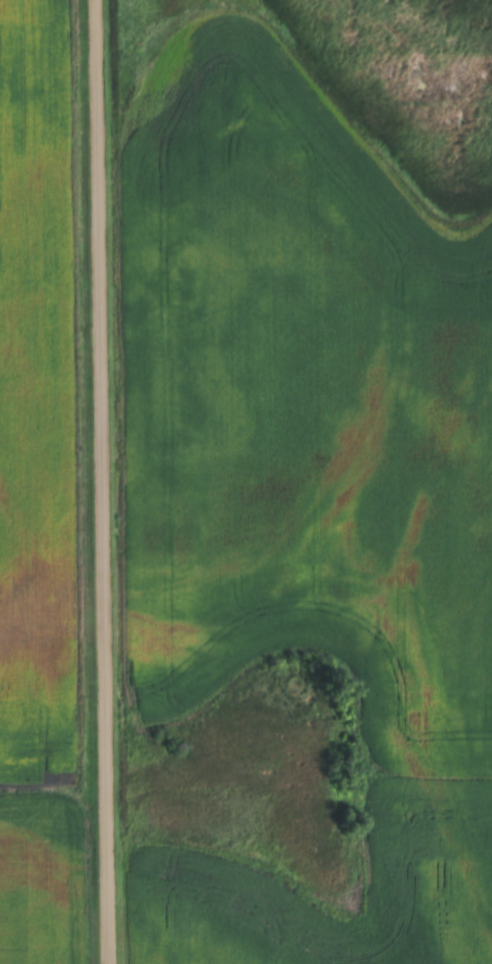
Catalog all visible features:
crop: (296, 479)
road: (102, 482)
crop: (42, 483)

